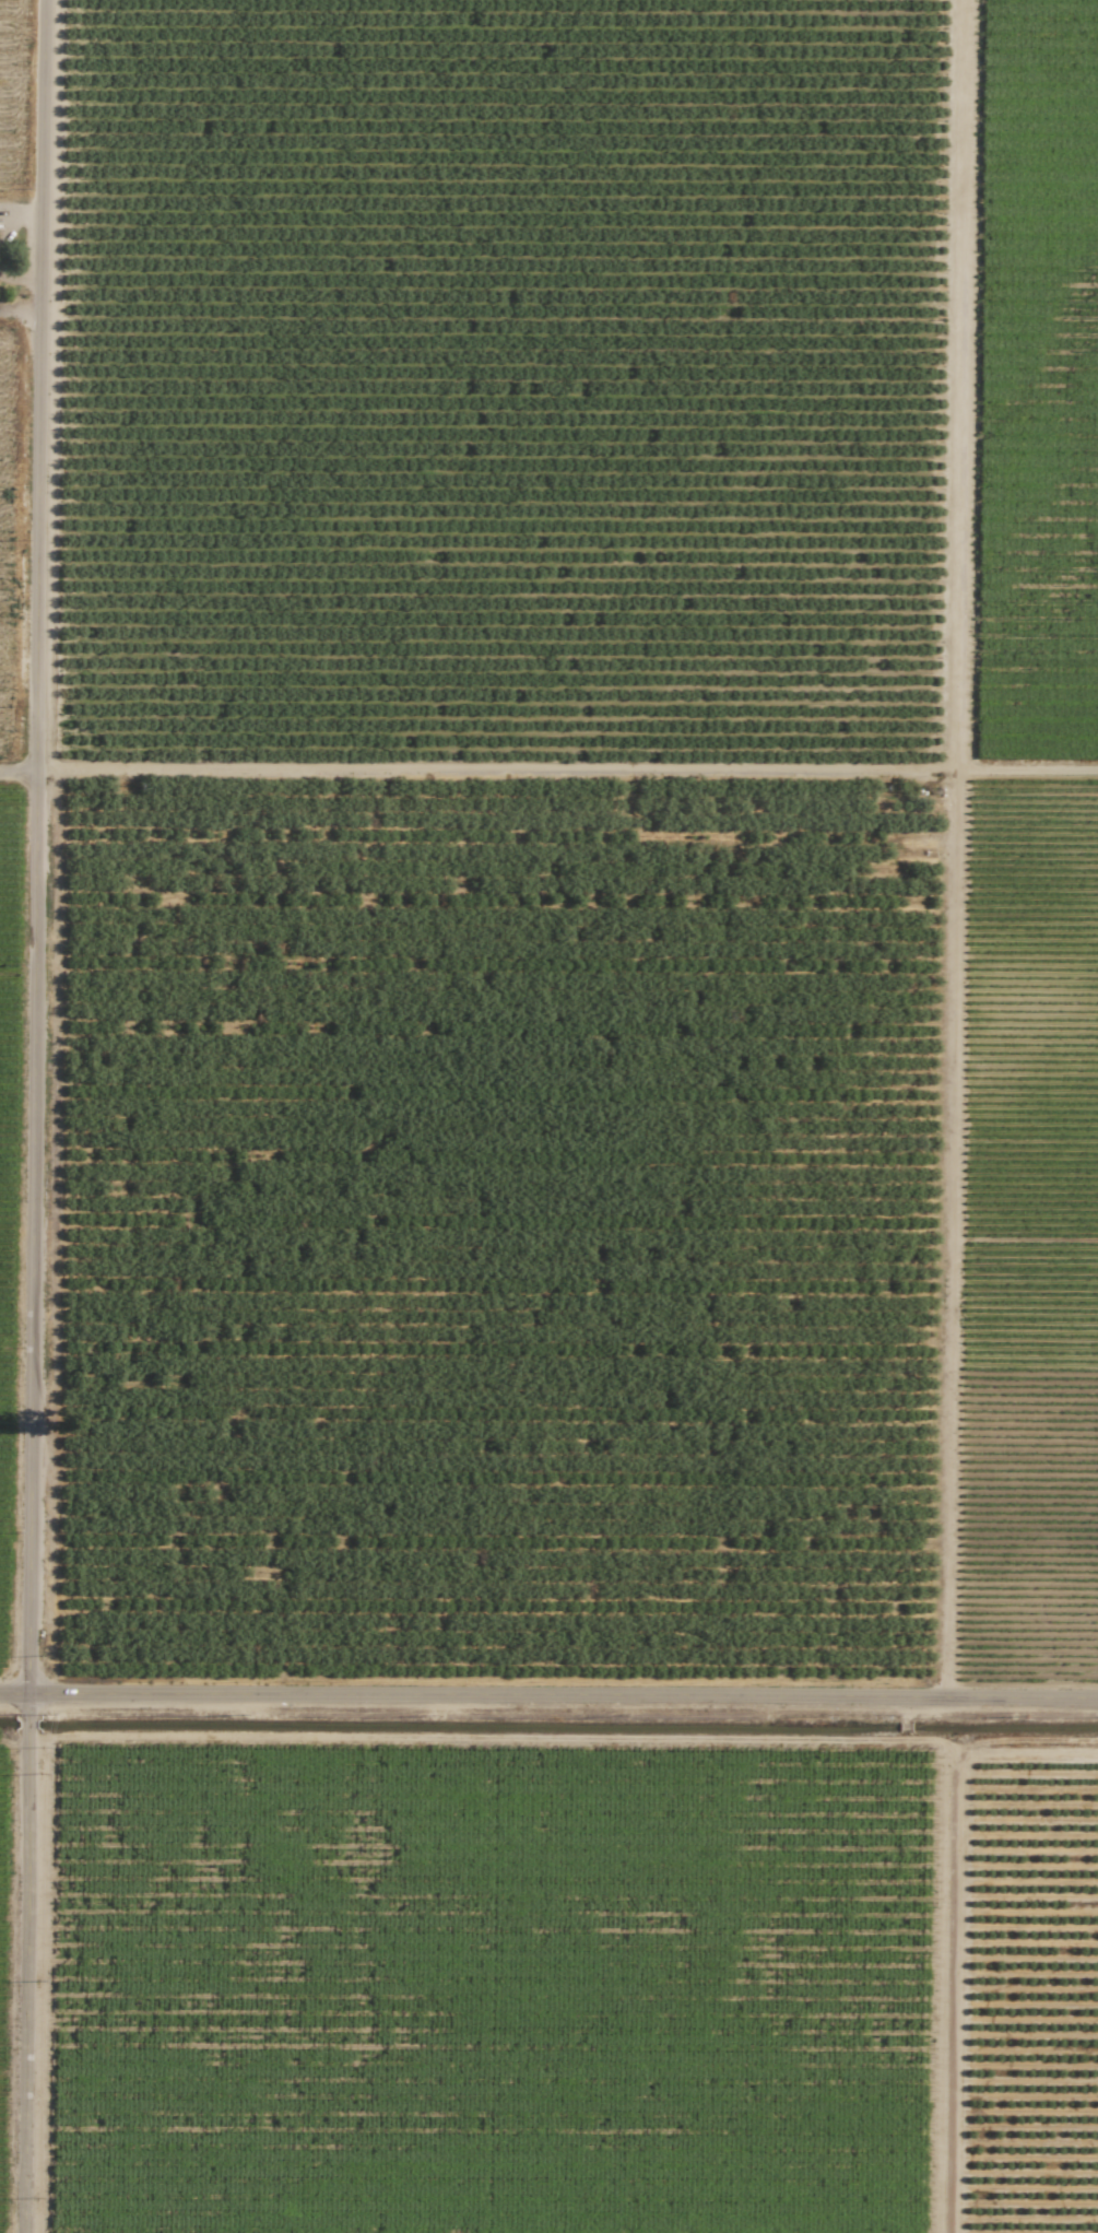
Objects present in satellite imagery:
road: (564, 768)
road: (15, 773)
road: (949, 849)
road: (29, 1116)
road: (548, 1700)

